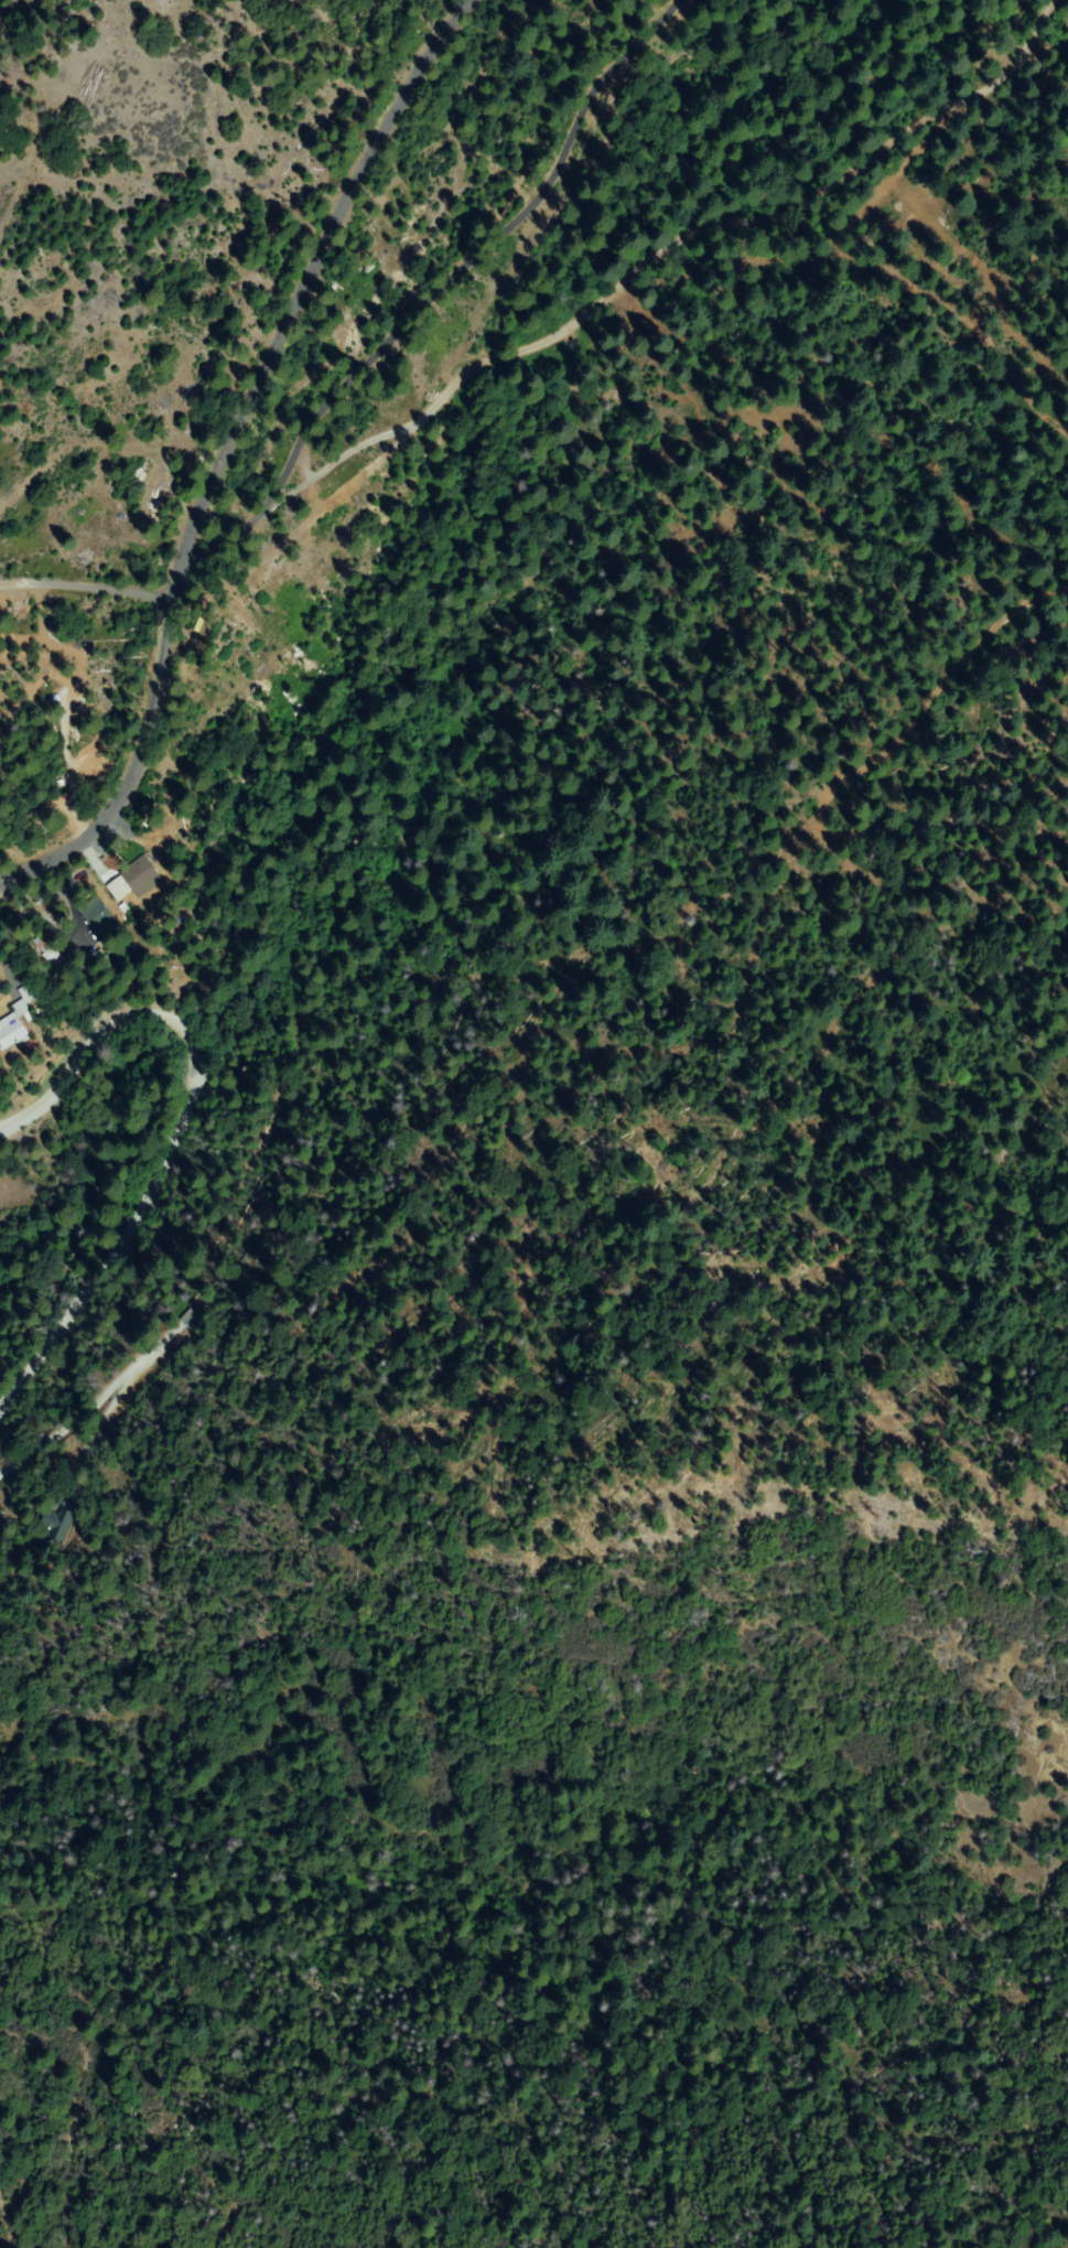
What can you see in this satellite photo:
road: (230, 452)
building: (139, 875)
building: (100, 919)
building: (51, 956)
building: (86, 976)
building: (31, 992)
building: (14, 1026)
road: (183, 1139)
road: (532, 1236)
road: (64, 1271)
building: (191, 1320)
building: (57, 1524)

